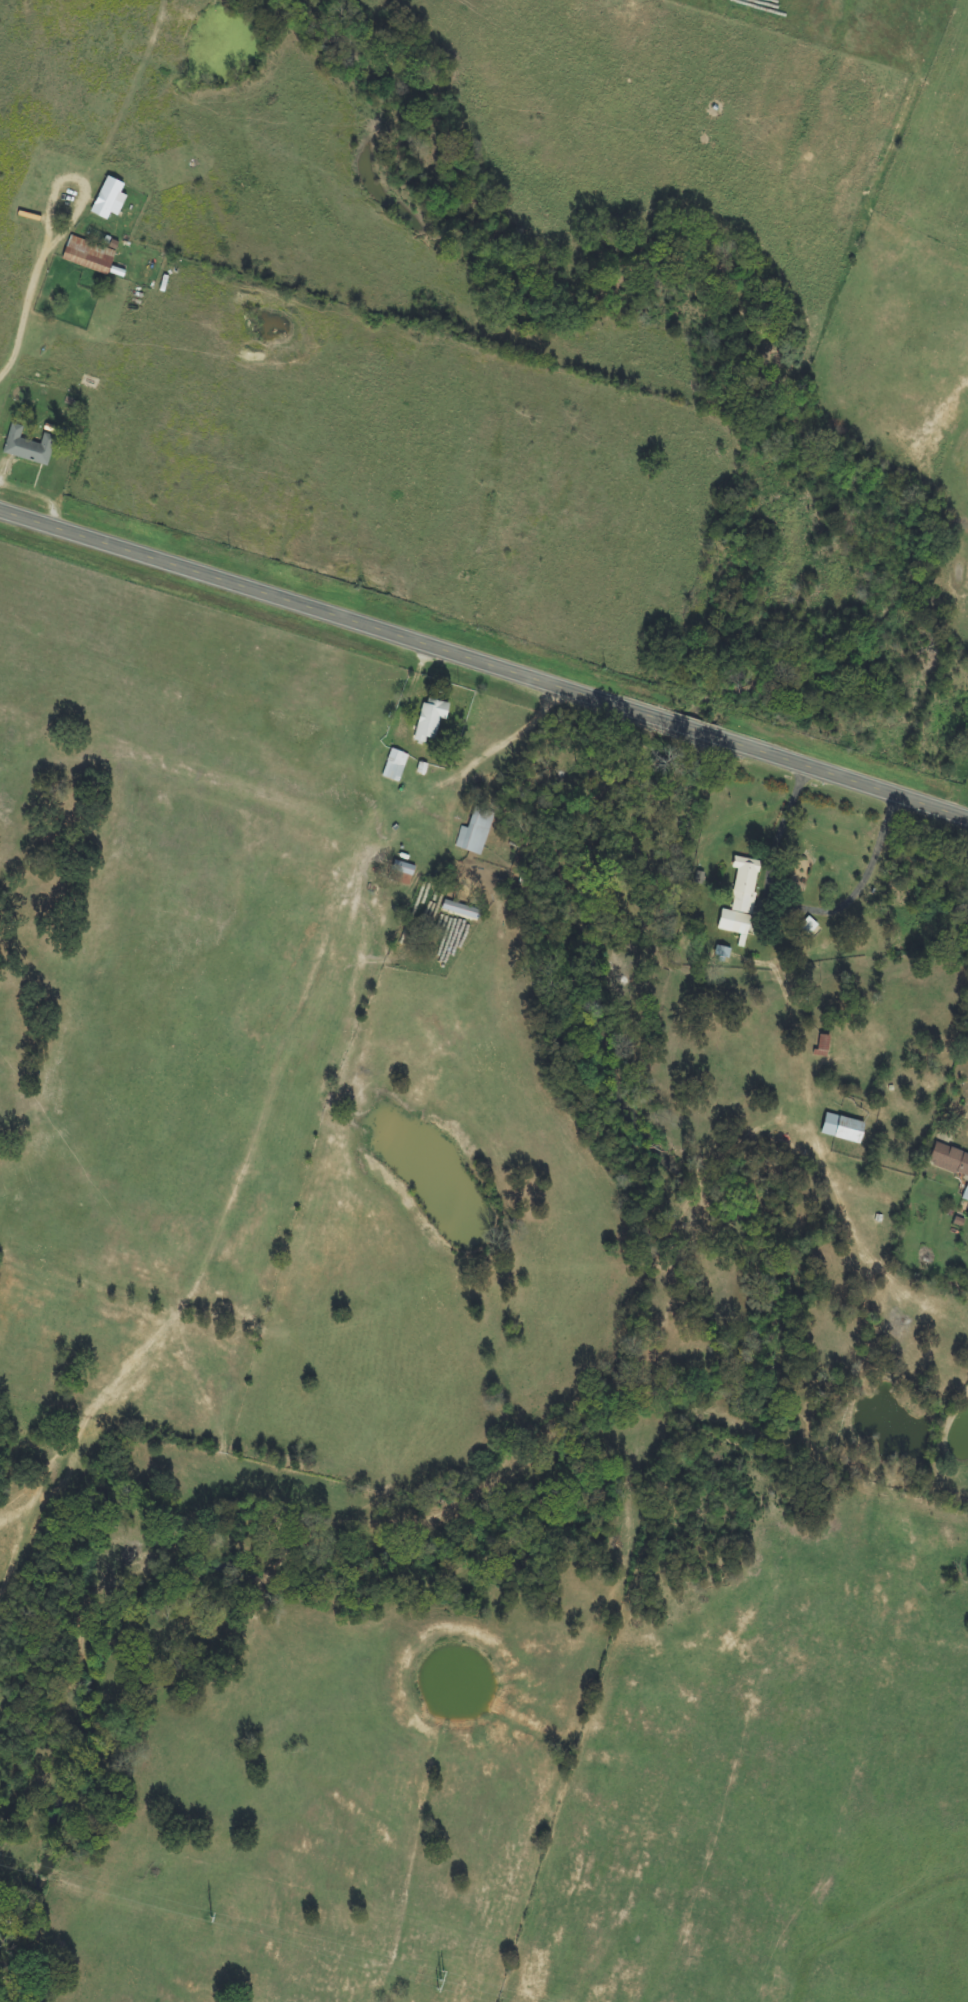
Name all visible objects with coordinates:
building: (110, 200)
building: (89, 256)
building: (29, 447)
road: (484, 662)
building: (432, 719)
building: (395, 766)
building: (476, 832)
building: (404, 868)
building: (742, 898)
building: (462, 911)
building: (810, 927)
building: (823, 1046)
building: (844, 1129)
building: (950, 1160)
building: (966, 1196)
power tower: (211, 1919)
power tower: (440, 1982)

